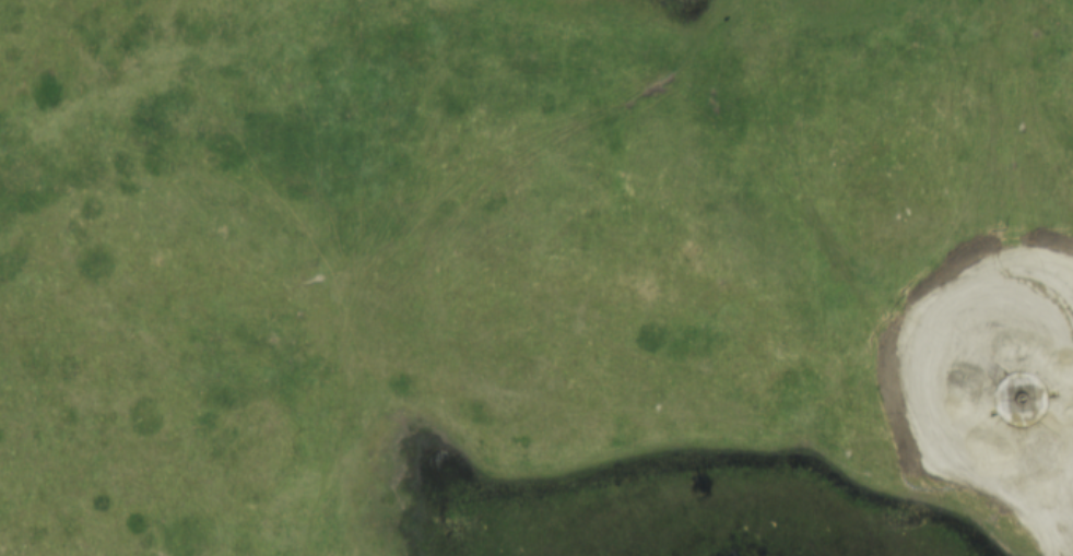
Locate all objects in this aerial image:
wind turbine: (1019, 406)

